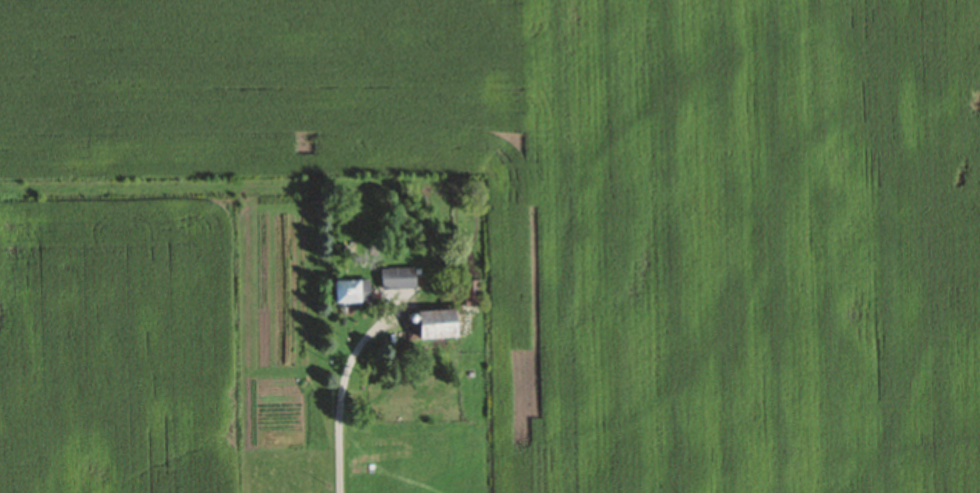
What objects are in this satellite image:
building: (397, 277)
building: (346, 290)
building: (471, 293)
building: (435, 323)

